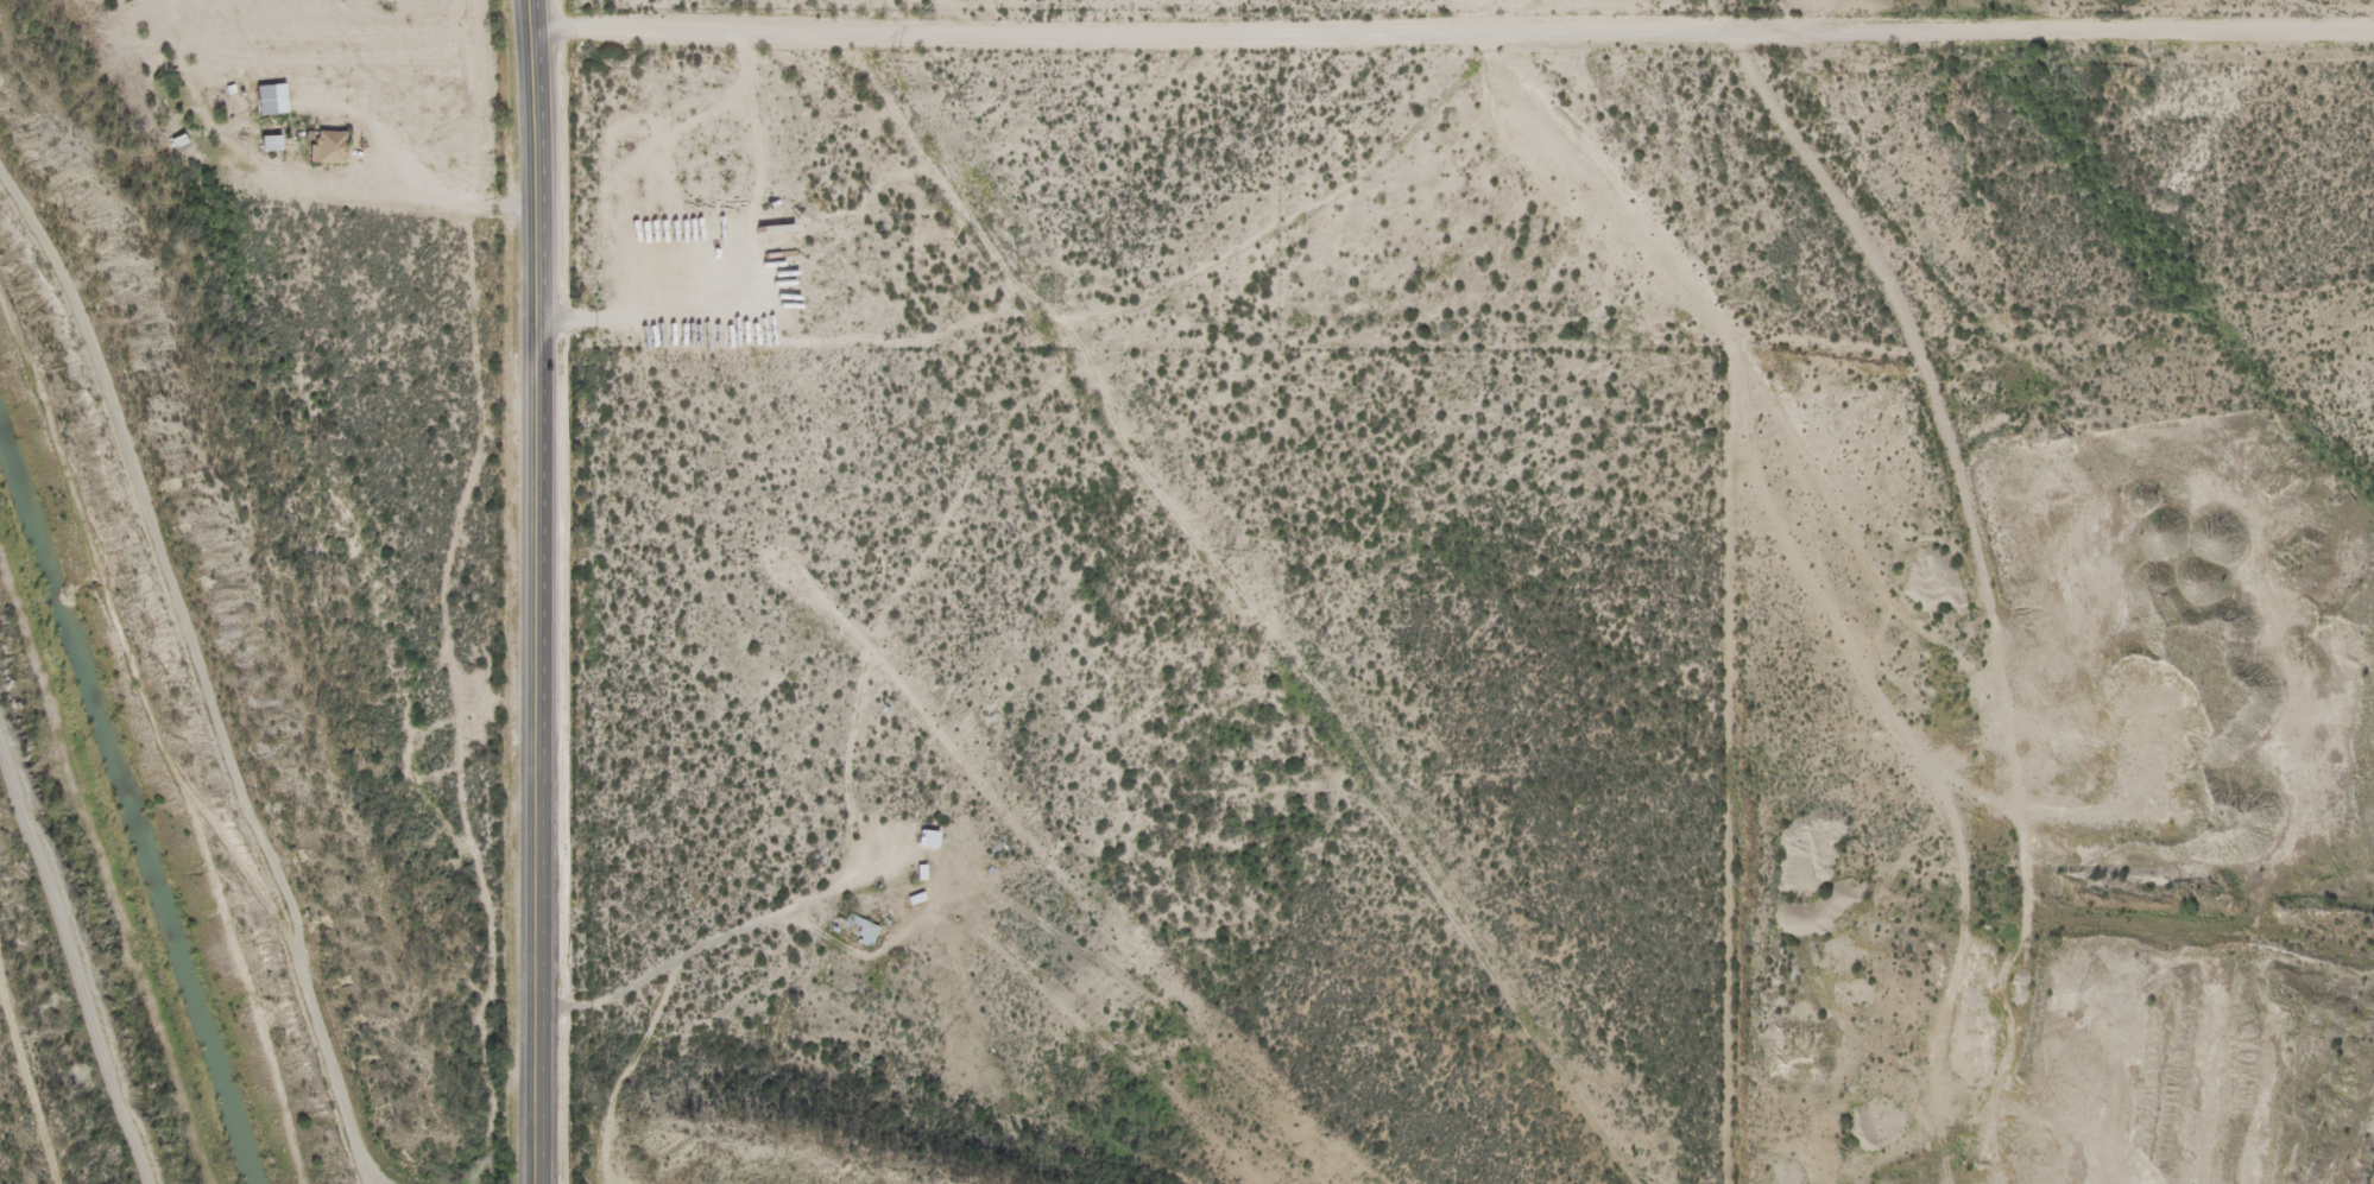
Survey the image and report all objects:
road: (1452, 33)
power tower: (895, 64)
building: (173, 146)
road: (943, 169)
road: (1332, 214)
power tower: (1233, 553)
road: (1989, 562)
road: (542, 591)
road: (1353, 762)
road: (857, 799)
building: (847, 932)
power tower: (1584, 1057)

